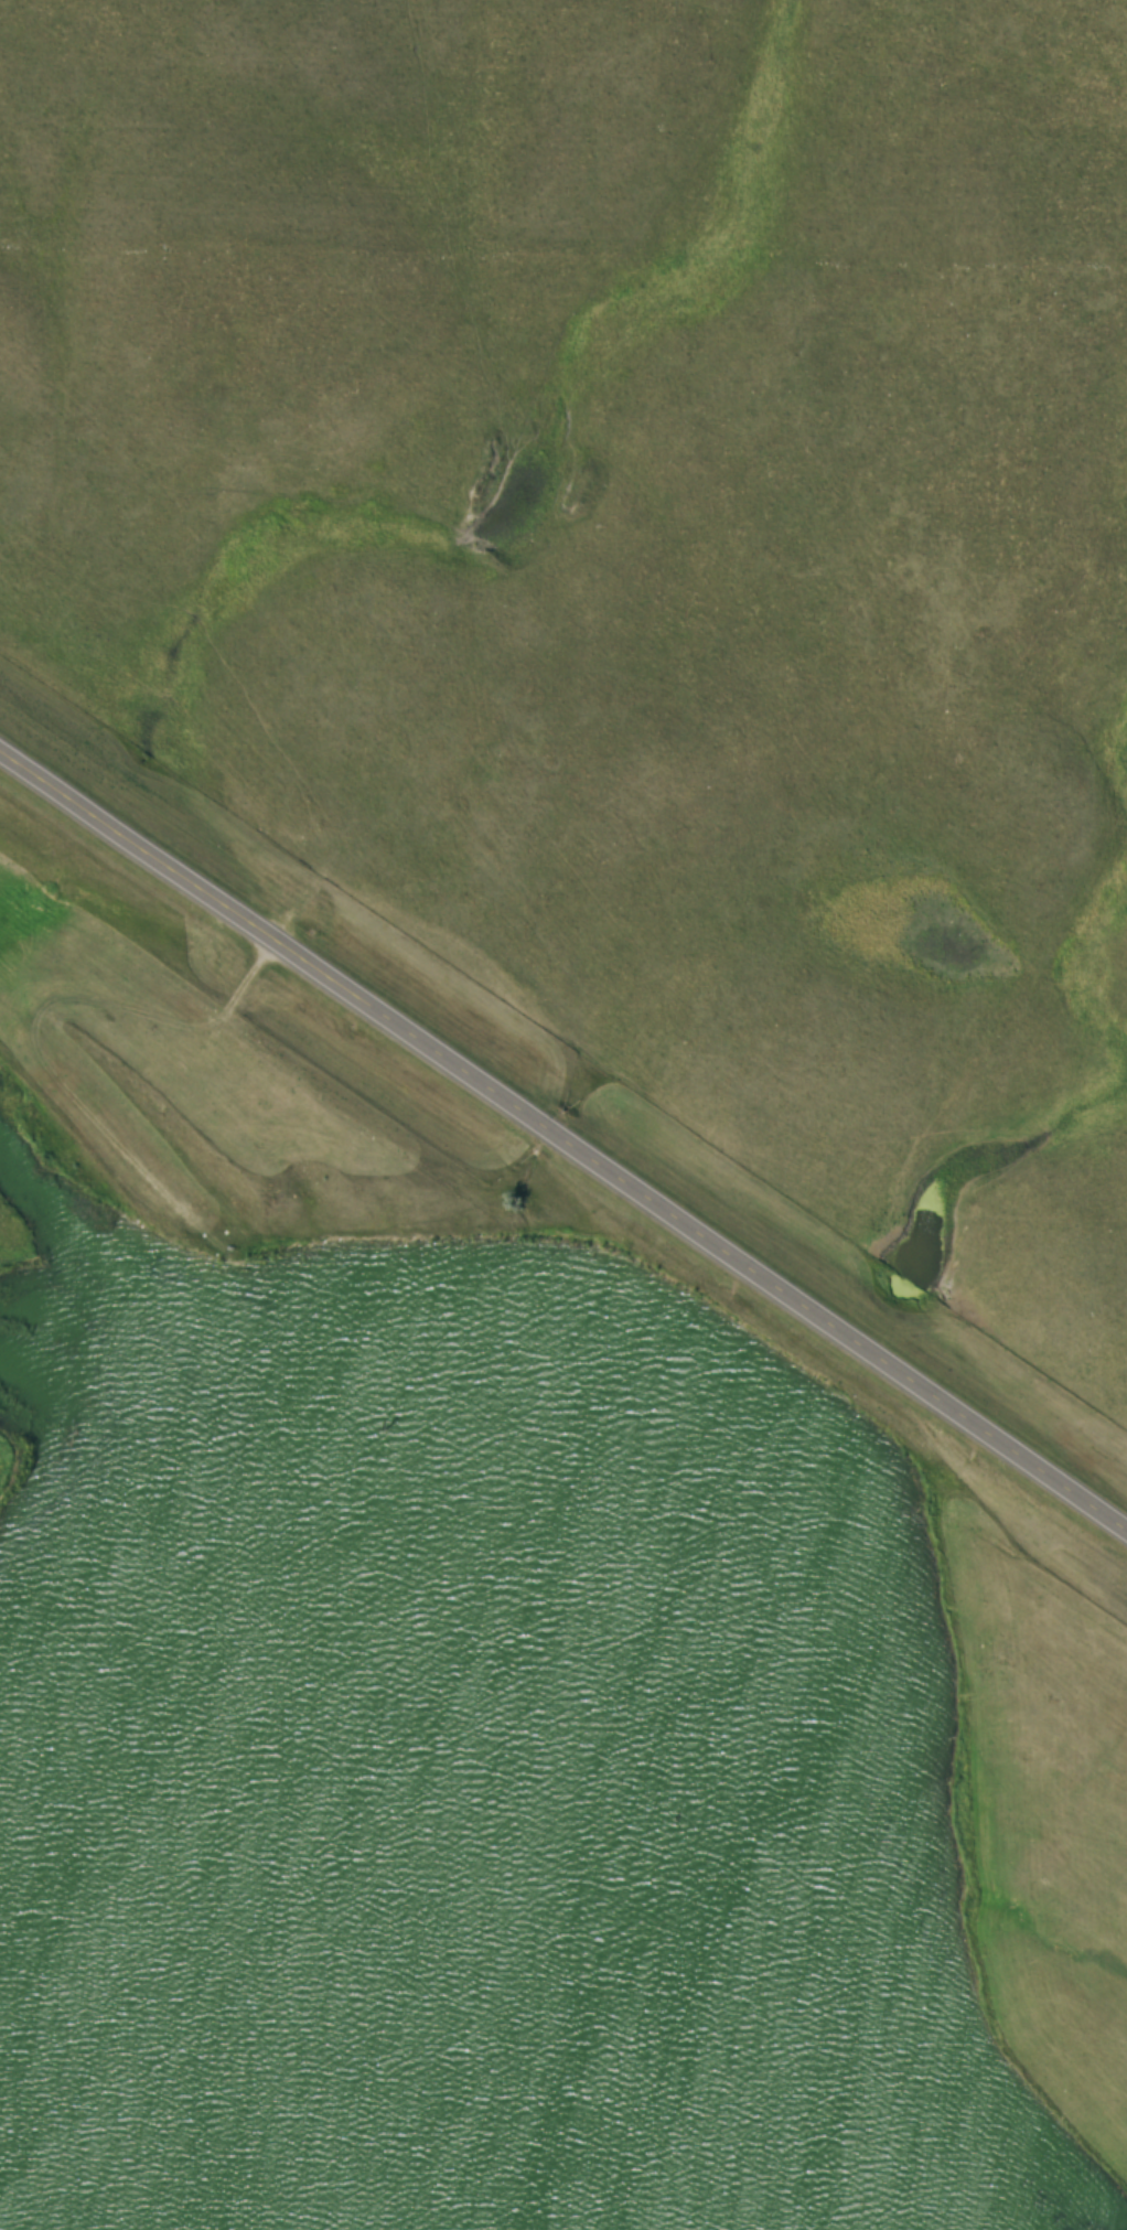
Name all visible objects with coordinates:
road: (563, 1140)

